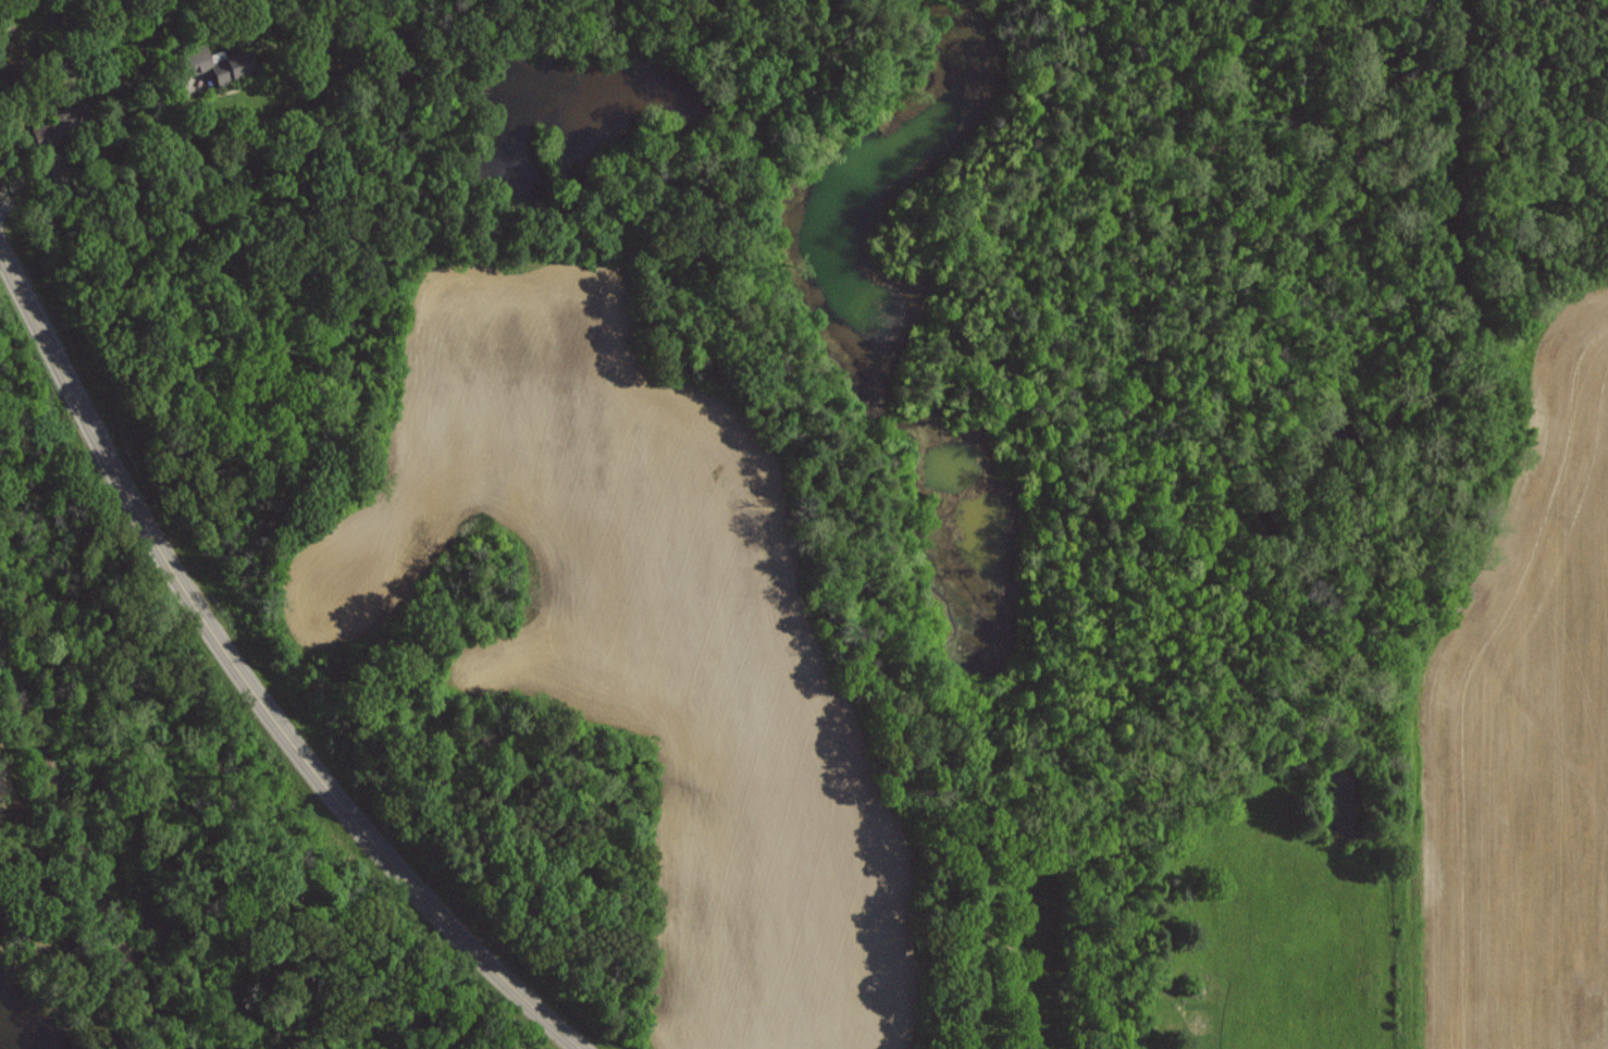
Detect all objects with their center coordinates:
building: (224, 62)
crop: (650, 642)
road: (244, 682)
railway: (82, 846)

